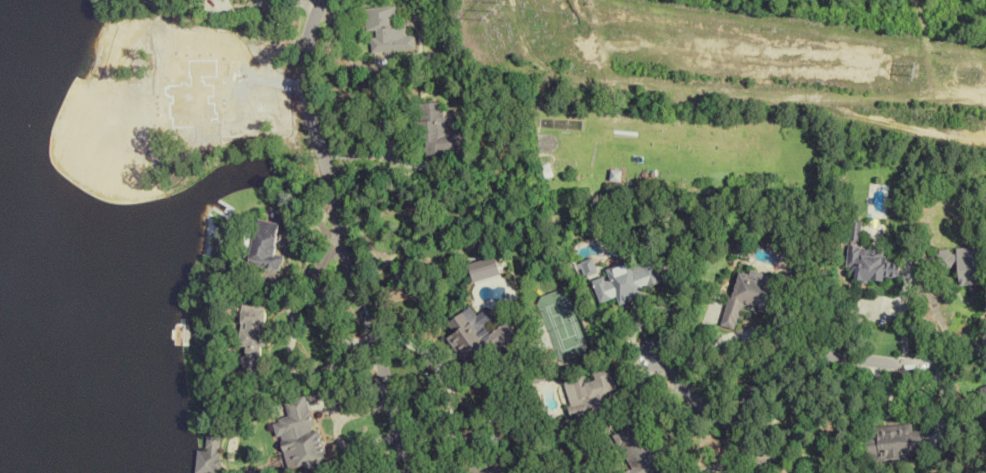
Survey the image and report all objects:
building: (385, 29)
building: (99, 36)
building: (434, 132)
road: (337, 238)
building: (264, 245)
building: (963, 263)
building: (868, 265)
building: (482, 268)
building: (625, 281)
building: (751, 296)
building: (476, 336)
building: (252, 343)
road: (816, 353)
road: (688, 394)
building: (983, 395)
building: (303, 440)
building: (894, 442)
building: (641, 448)
building: (209, 456)

